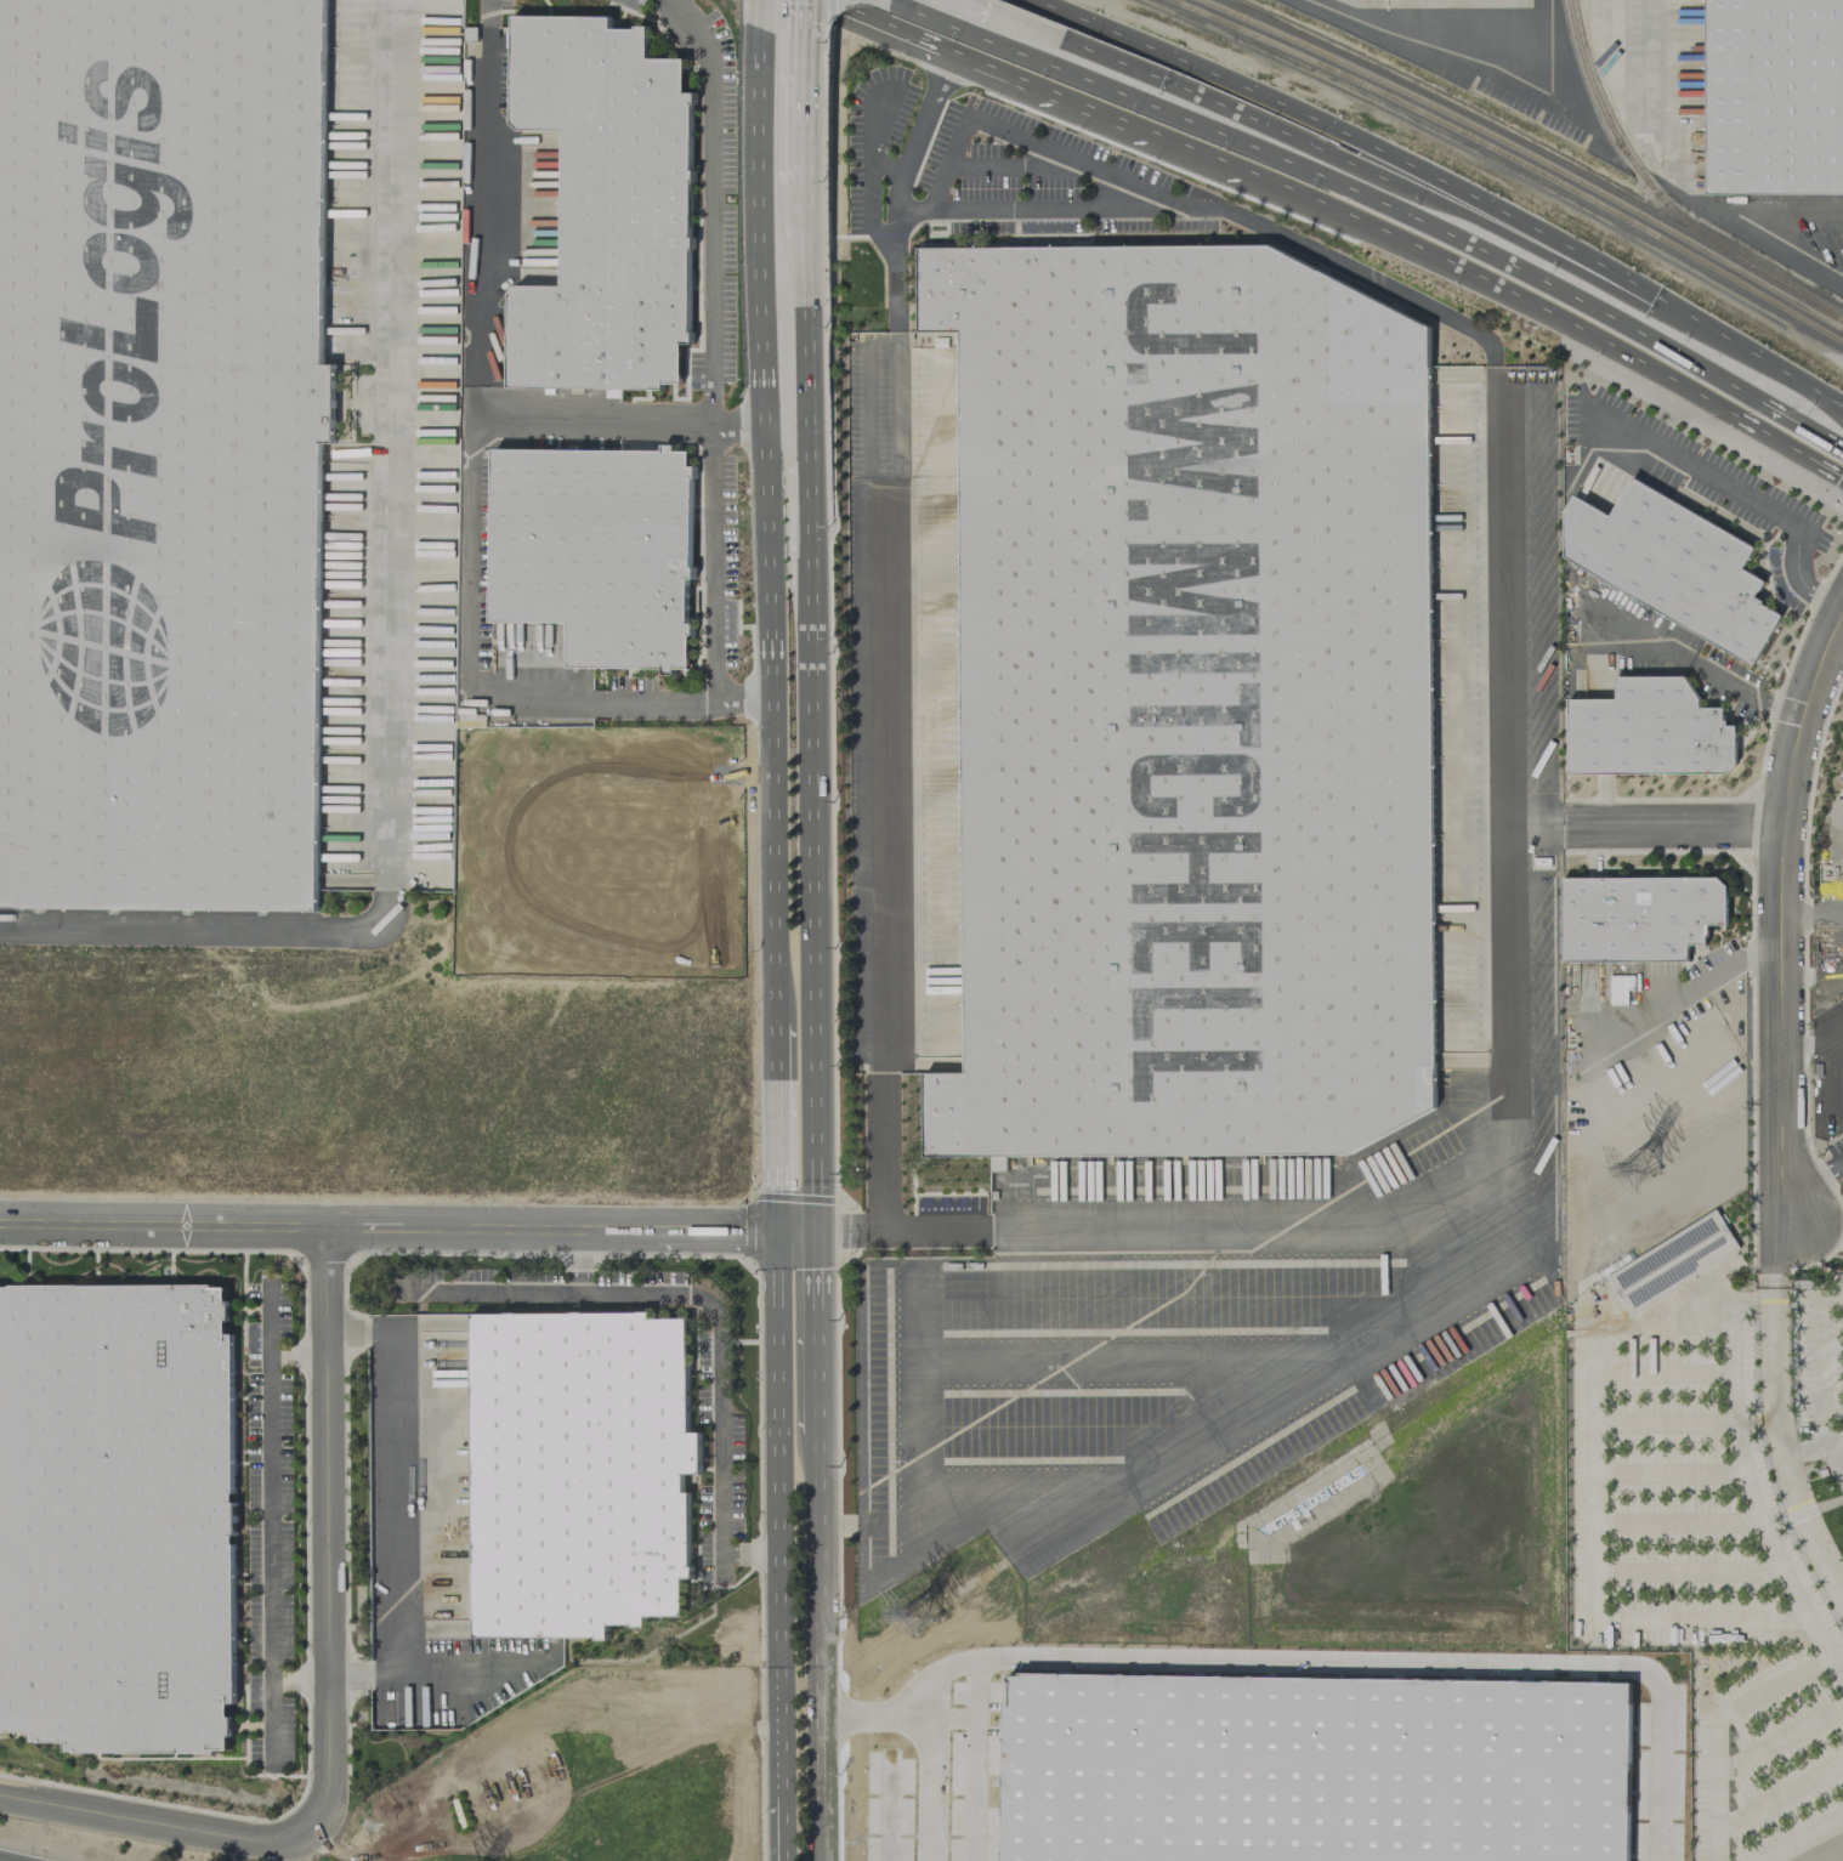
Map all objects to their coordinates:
road: (769, 8)
road: (1000, 12)
road: (811, 13)
road: (892, 24)
road: (962, 25)
road: (1434, 35)
road: (1102, 52)
building: (1773, 97)
road: (810, 107)
road: (1373, 147)
railway: (1527, 153)
railway: (1514, 159)
road: (1251, 172)
road: (867, 182)
road: (1675, 183)
road: (898, 185)
road: (1183, 192)
railway: (1660, 198)
road: (1439, 199)
road: (809, 203)
building: (606, 206)
road: (1072, 206)
road: (1444, 232)
road: (708, 319)
road: (809, 342)
road: (1774, 365)
road: (1696, 384)
road: (736, 424)
road: (392, 446)
building: (163, 455)
road: (472, 487)
road: (810, 495)
road: (1745, 497)
road: (764, 529)
building: (596, 550)
road: (711, 561)
building: (1674, 567)
road: (1699, 663)
building: (1186, 708)
building: (1649, 731)
building: (1842, 776)
road: (1671, 824)
road: (811, 876)
road: (1810, 910)
road: (1777, 913)
building: (1638, 917)
road: (205, 932)
road: (1678, 997)
road: (1810, 1038)
road: (778, 1135)
building: (997, 1163)
power tower: (1635, 1163)
road: (1814, 1181)
road: (787, 1197)
road: (390, 1227)
road: (873, 1229)
road: (795, 1230)
traffic signals: (812, 1230)
road: (837, 1230)
traffic signals: (779, 1231)
road: (1191, 1233)
road: (578, 1249)
road: (482, 1292)
road: (919, 1315)
road: (812, 1328)
road: (348, 1330)
road: (297, 1354)
road: (718, 1355)
road: (1047, 1363)
road: (1820, 1363)
road: (1660, 1372)
road: (1771, 1395)
road: (1753, 1423)
road: (1662, 1424)
road: (1179, 1446)
road: (1813, 1448)
road: (1837, 1453)
building: (578, 1471)
road: (1667, 1473)
road: (1745, 1486)
road: (393, 1502)
road: (1830, 1503)
road: (1593, 1513)
road: (1802, 1515)
building: (117, 1516)
road: (1675, 1521)
road: (268, 1522)
road: (834, 1522)
road: (1775, 1526)
road: (330, 1530)
road: (781, 1532)
road: (758, 1553)
road: (1686, 1571)
parking lot: (1709, 1575)
power tower: (919, 1610)
road: (813, 1644)
road: (1412, 1661)
road: (471, 1662)
road: (352, 1675)
road: (301, 1678)
road: (495, 1681)
road: (900, 1702)
road: (1717, 1727)
road: (1780, 1737)
road: (975, 1760)
road: (930, 1772)
road: (1780, 1794)
road: (160, 1825)
road: (856, 1838)
road: (1802, 1839)
road: (783, 1848)
road: (15, 1856)

